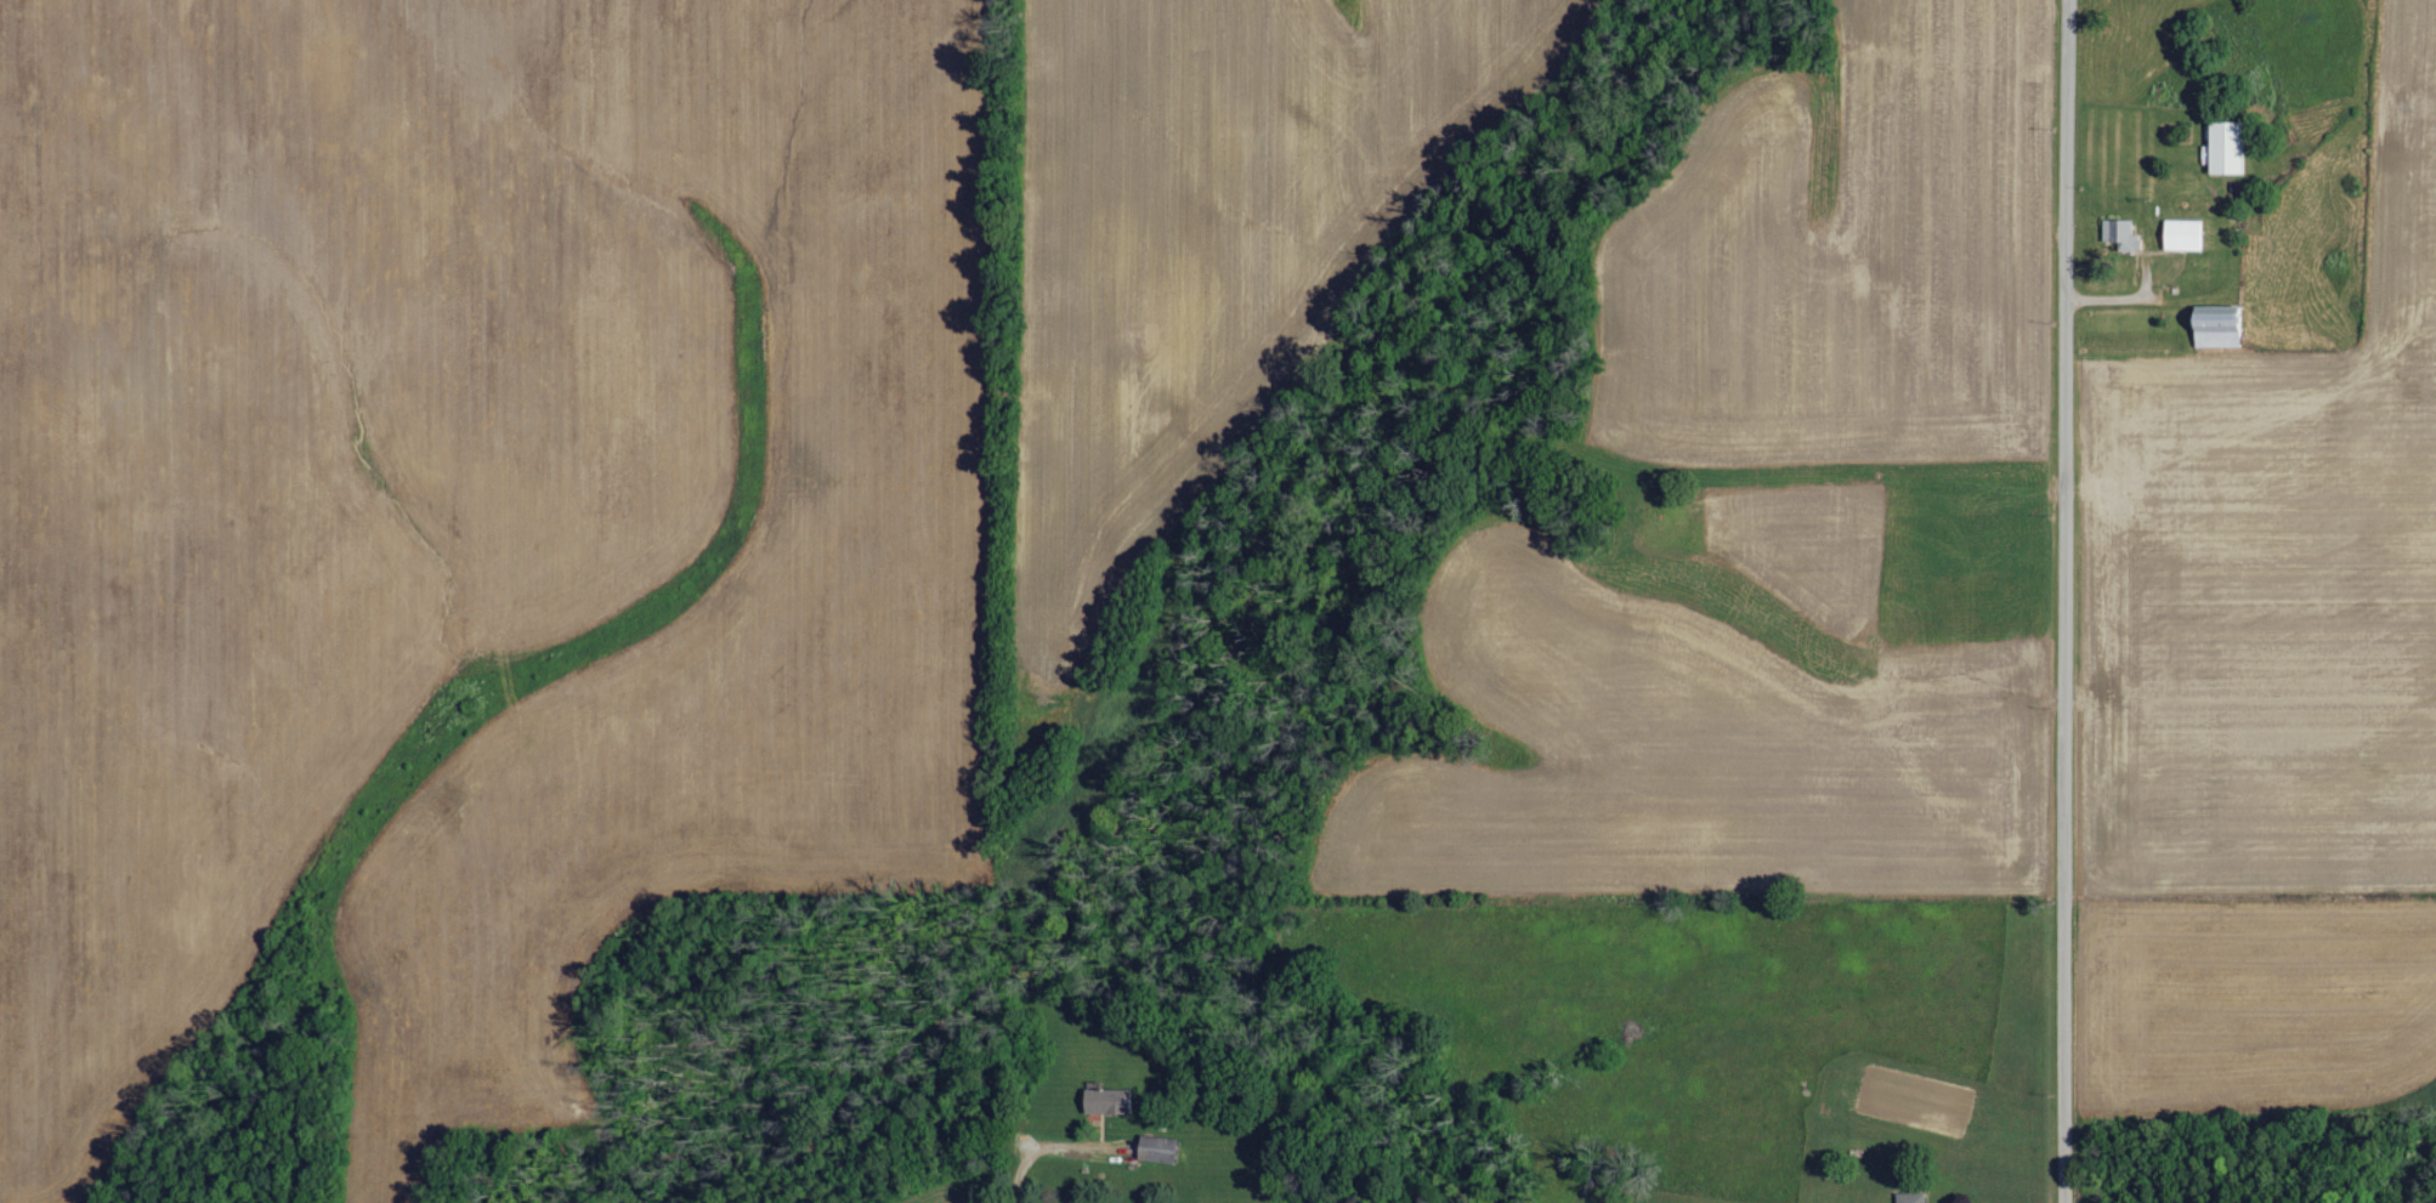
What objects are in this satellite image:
building: (2228, 148)
building: (2183, 234)
building: (2121, 236)
building: (2220, 327)
crop: (2276, 574)
road: (2069, 601)
crop: (2251, 1000)
building: (1106, 1101)
building: (1156, 1150)
building: (1910, 1197)

